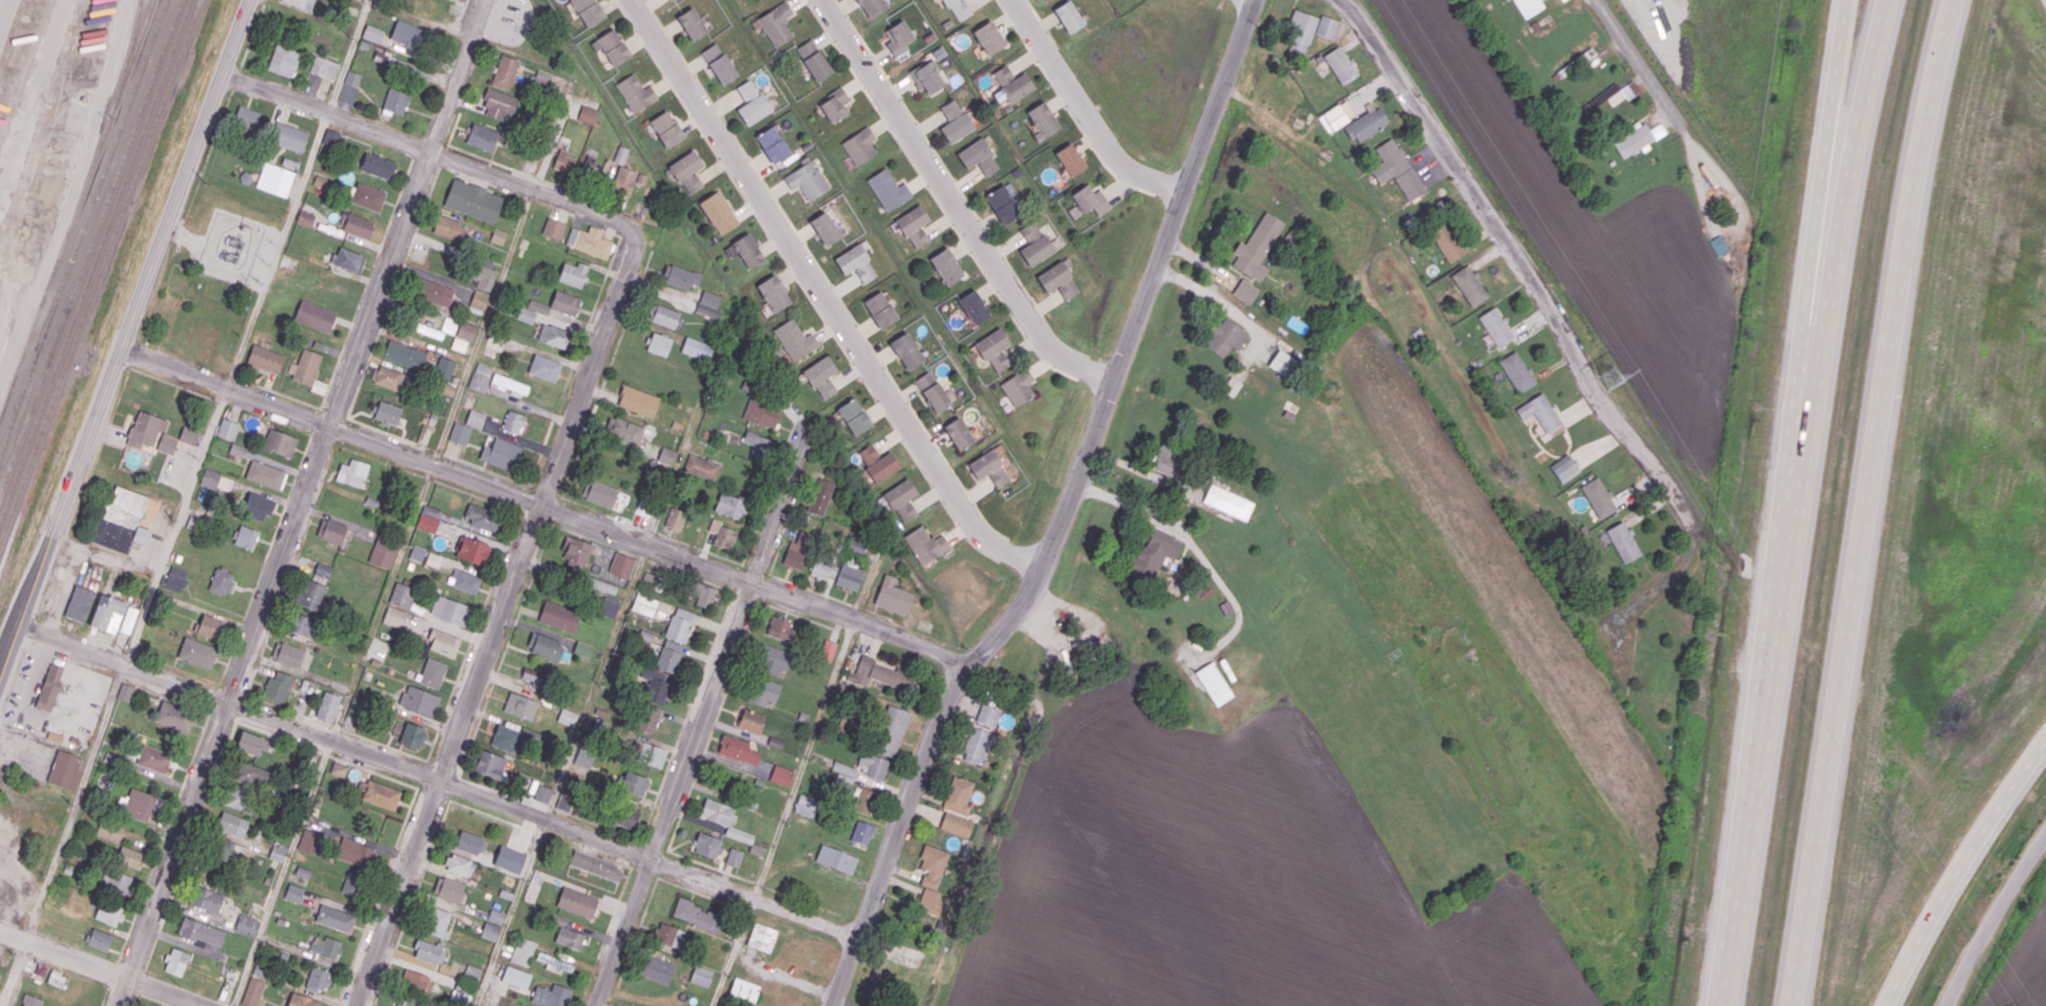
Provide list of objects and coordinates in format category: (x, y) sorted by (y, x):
building: (462, 0)
building: (301, 3)
building: (1529, 6)
road: (2, 7)
building: (871, 7)
building: (958, 9)
building: (588, 11)
building: (1068, 16)
building: (691, 23)
building: (776, 23)
building: (1326, 27)
building: (372, 33)
building: (408, 34)
building: (1300, 34)
building: (898, 37)
building: (988, 37)
building: (611, 47)
railway: (129, 50)
building: (1586, 54)
road: (347, 56)
road: (1637, 57)
building: (284, 60)
building: (813, 60)
building: (400, 63)
building: (719, 63)
building: (1340, 64)
building: (324, 67)
building: (504, 72)
building: (542, 77)
building: (926, 77)
building: (352, 78)
building: (1012, 83)
building: (635, 93)
road: (275, 94)
building: (1607, 98)
building: (396, 100)
building: (751, 102)
building: (834, 104)
road: (1084, 110)
building: (587, 114)
building: (1338, 114)
building: (246, 120)
building: (1042, 120)
building: (954, 121)
building: (1367, 124)
building: (666, 129)
building: (288, 136)
building: (482, 137)
building: (1638, 138)
building: (334, 139)
building: (772, 144)
building: (859, 146)
building: (620, 154)
building: (978, 156)
building: (1070, 159)
building: (564, 162)
building: (377, 165)
building: (590, 166)
building: (1396, 169)
building: (687, 171)
road: (483, 173)
building: (275, 179)
building: (623, 180)
building: (807, 180)
building: (321, 182)
road: (1819, 183)
road: (1840, 183)
building: (888, 189)
building: (368, 196)
building: (473, 200)
building: (1090, 200)
road: (955, 203)
building: (1003, 203)
road: (1740, 205)
railway: (76, 208)
road: (407, 212)
building: (718, 212)
building: (305, 218)
building: (358, 226)
building: (914, 226)
railway: (83, 227)
building: (449, 227)
building: (553, 228)
building: (825, 228)
road: (185, 234)
building: (498, 236)
building: (589, 241)
building: (1447, 241)
building: (1034, 244)
railway: (90, 245)
building: (1718, 245)
building: (1256, 246)
crop: (1604, 248)
building: (748, 250)
building: (348, 259)
railway: (95, 260)
building: (856, 263)
building: (946, 265)
railway: (100, 271)
building: (573, 273)
building: (484, 274)
building: (679, 276)
building: (1058, 280)
building: (1470, 285)
building: (1245, 290)
building: (436, 292)
building: (773, 293)
road: (824, 297)
building: (477, 301)
building: (565, 303)
building: (709, 304)
building: (538, 306)
building: (973, 306)
building: (880, 309)
building: (314, 315)
building: (526, 315)
building: (662, 315)
road: (1559, 322)
building: (449, 325)
building: (1496, 326)
building: (427, 330)
building: (466, 330)
road: (127, 335)
building: (554, 335)
building: (193, 336)
building: (1226, 337)
building: (794, 339)
building: (658, 343)
building: (459, 344)
building: (696, 348)
building: (993, 348)
building: (906, 350)
building: (404, 354)
building: (264, 358)
building: (1283, 362)
building: (305, 366)
building: (544, 367)
building: (444, 368)
building: (1517, 371)
building: (480, 376)
building: (821, 376)
building: (387, 378)
power tower: (1611, 379)
road: (172, 383)
building: (509, 384)
building: (318, 386)
building: (1018, 386)
building: (1231, 386)
building: (932, 391)
building: (638, 400)
road: (223, 401)
building: (1540, 412)
building: (386, 413)
building: (762, 414)
building: (854, 416)
building: (475, 418)
road: (271, 419)
building: (514, 422)
building: (227, 428)
building: (144, 429)
building: (623, 429)
building: (459, 433)
building: (958, 433)
building: (189, 435)
building: (279, 442)
building: (167, 443)
building: (758, 444)
building: (241, 451)
building: (500, 453)
building: (868, 454)
building: (666, 455)
building: (1168, 459)
building: (702, 466)
building: (882, 467)
building: (989, 467)
building: (1564, 468)
road: (1137, 469)
building: (352, 472)
building: (265, 474)
building: (210, 478)
building: (600, 493)
building: (820, 496)
building: (1598, 497)
building: (901, 499)
road: (1867, 501)
building: (1228, 502)
road: (1125, 503)
building: (730, 505)
building: (257, 506)
road: (540, 506)
road: (1063, 516)
building: (481, 517)
building: (429, 518)
building: (675, 518)
building: (118, 520)
building: (331, 530)
building: (722, 534)
building: (245, 536)
building: (1623, 541)
road: (404, 545)
building: (925, 545)
building: (472, 550)
building: (576, 550)
building: (798, 550)
building: (383, 551)
building: (417, 553)
building: (1153, 555)
road: (104, 557)
road: (163, 558)
building: (622, 565)
road: (756, 568)
building: (823, 568)
building: (322, 570)
building: (850, 574)
crop: (1502, 575)
building: (174, 579)
building: (221, 580)
building: (464, 581)
building: (601, 585)
road: (764, 586)
road: (810, 588)
road: (62, 593)
building: (310, 594)
building: (402, 595)
road: (746, 595)
building: (705, 596)
building: (892, 596)
building: (79, 602)
building: (644, 604)
building: (608, 606)
road: (861, 607)
building: (450, 610)
road: (796, 613)
building: (107, 614)
road: (881, 615)
building: (559, 616)
building: (394, 617)
building: (128, 619)
road: (497, 619)
building: (679, 624)
building: (303, 625)
building: (210, 627)
building: (780, 628)
building: (443, 642)
building: (544, 646)
building: (582, 649)
building: (827, 650)
building: (197, 653)
building: (288, 654)
building: (669, 656)
building: (773, 659)
building: (432, 673)
building: (881, 674)
building: (532, 676)
building: (1213, 683)
building: (277, 685)
road: (1764, 687)
building: (49, 688)
building: (657, 690)
building: (764, 691)
building: (124, 692)
building: (419, 700)
building: (520, 705)
building: (327, 706)
building: (355, 707)
building: (988, 715)
building: (174, 716)
road: (222, 716)
building: (567, 717)
building: (648, 717)
road: (702, 720)
building: (751, 720)
building: (592, 727)
road: (579, 729)
building: (891, 730)
building: (531, 734)
building: (412, 735)
building: (505, 737)
building: (251, 743)
building: (976, 744)
building: (738, 749)
parking lot: (25, 752)
building: (652, 755)
building: (154, 758)
building: (583, 759)
building: (490, 764)
building: (874, 766)
building: (63, 768)
building: (338, 769)
building: (843, 773)
building: (251, 774)
building: (781, 775)
road: (437, 779)
building: (633, 783)
building: (542, 793)
building: (381, 794)
building: (958, 795)
building: (240, 799)
building: (565, 800)
building: (865, 801)
building: (141, 804)
building: (805, 805)
building: (716, 811)
road: (785, 812)
building: (627, 816)
building: (232, 824)
building: (956, 824)
building: (109, 831)
building: (861, 832)
building: (739, 834)
building: (310, 842)
building: (469, 843)
building: (707, 845)
building: (226, 848)
building: (278, 851)
building: (355, 852)
building: (130, 857)
building: (734, 857)
building: (509, 859)
building: (836, 859)
building: (458, 864)
building: (596, 865)
building: (932, 865)
building: (302, 872)
road: (1961, 872)
crop: (1226, 879)
building: (116, 881)
building: (353, 884)
building: (450, 889)
building: (293, 892)
building: (206, 899)
building: (577, 901)
building: (929, 901)
building: (108, 913)
building: (696, 914)
road: (1992, 915)
building: (495, 916)
building: (335, 918)
building: (557, 919)
building: (437, 921)
building: (246, 925)
building: (490, 931)
building: (200, 932)
building: (669, 935)
building: (569, 937)
building: (761, 937)
building: (99, 939)
building: (326, 947)
building: (429, 951)
building: (522, 951)
building: (175, 961)
building: (554, 963)
road: (100, 967)
building: (655, 968)
building: (472, 971)
building: (701, 975)
building: (516, 977)
building: (56, 978)
building: (317, 979)
building: (416, 980)
building: (743, 990)
building: (253, 991)
building: (551, 995)
building: (460, 996)
building: (31, 1000)
building: (300, 1000)
building: (400, 1004)

